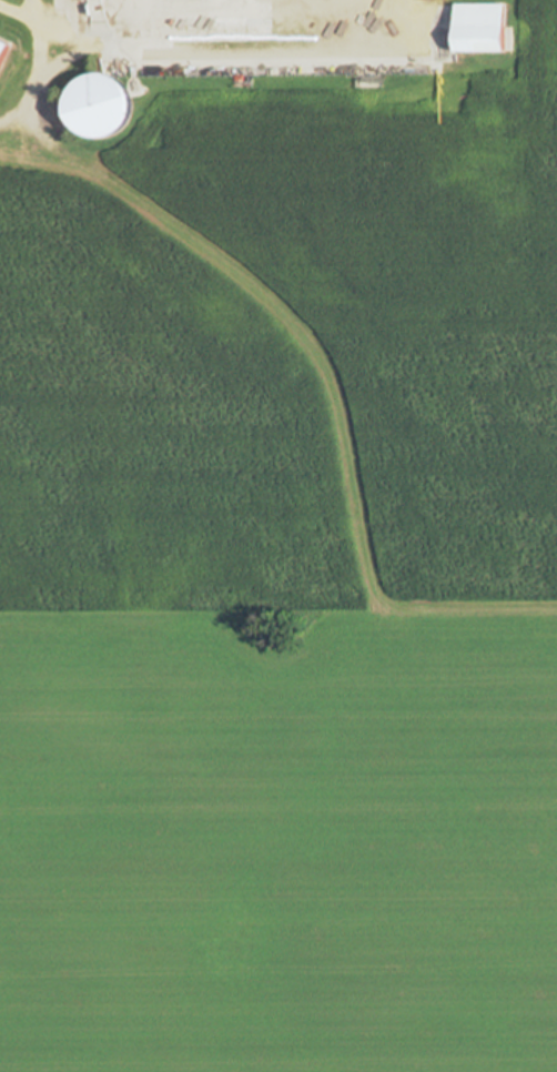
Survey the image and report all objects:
building: (223, 8)
building: (479, 27)
building: (3, 47)
building: (101, 105)
building: (439, 171)

